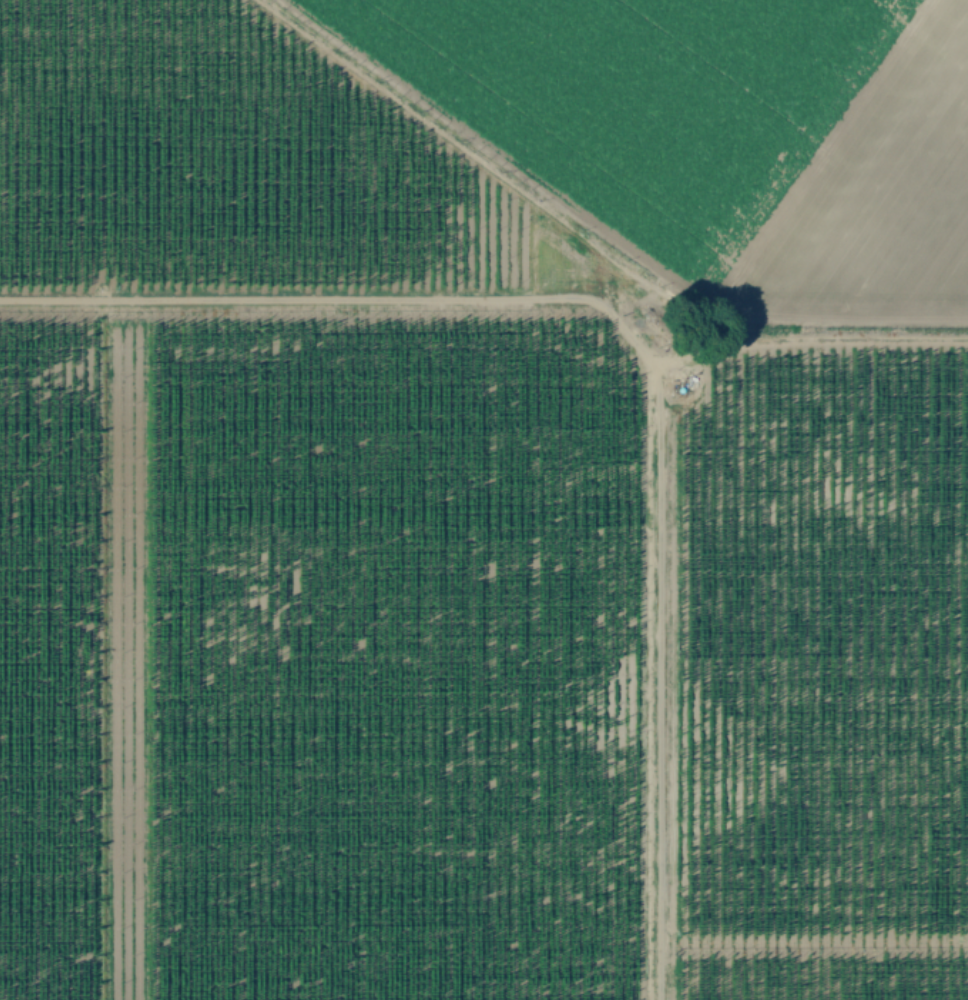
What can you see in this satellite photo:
crop: (486, 147)

